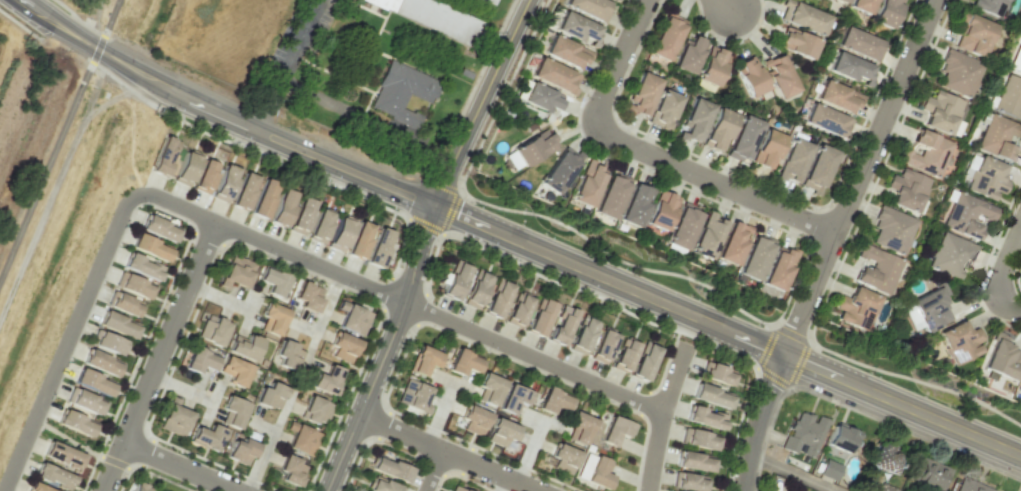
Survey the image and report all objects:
building: (843, 0)
building: (873, 0)
building: (487, 1)
building: (380, 2)
road: (726, 4)
building: (859, 5)
building: (985, 5)
building: (587, 8)
street lamp: (539, 11)
building: (884, 12)
street lamp: (764, 13)
building: (802, 17)
building: (442, 18)
road: (76, 20)
road: (19, 25)
road: (107, 25)
building: (577, 28)
street lamp: (614, 31)
building: (972, 35)
building: (665, 37)
building: (796, 43)
building: (857, 43)
building: (565, 52)
building: (687, 54)
road: (289, 66)
building: (710, 66)
building: (1018, 66)
building: (849, 68)
building: (464, 73)
building: (957, 73)
building: (553, 76)
building: (777, 76)
building: (749, 77)
road: (473, 81)
building: (399, 89)
building: (642, 93)
street lamp: (586, 94)
building: (540, 97)
building: (836, 97)
building: (1008, 97)
road: (479, 103)
building: (663, 109)
building: (941, 113)
road: (221, 116)
building: (693, 120)
building: (826, 120)
building: (718, 129)
building: (998, 137)
road: (58, 138)
building: (742, 138)
building: (766, 148)
building: (529, 149)
street lamp: (612, 153)
building: (925, 153)
road: (651, 154)
building: (164, 156)
building: (792, 160)
road: (48, 163)
street lamp: (717, 166)
building: (185, 168)
building: (816, 169)
building: (558, 171)
building: (204, 176)
road: (858, 177)
building: (985, 178)
building: (224, 183)
building: (587, 183)
building: (906, 190)
building: (243, 191)
building: (610, 197)
building: (262, 198)
building: (634, 204)
street lamp: (141, 205)
building: (282, 207)
building: (661, 210)
building: (966, 215)
building: (301, 216)
building: (319, 226)
building: (682, 226)
street lamp: (782, 226)
building: (159, 228)
building: (891, 229)
building: (338, 234)
building: (707, 235)
street lamp: (850, 236)
building: (359, 240)
building: (732, 243)
building: (378, 247)
building: (150, 248)
building: (951, 255)
street lamp: (264, 256)
building: (754, 257)
road: (1004, 264)
building: (142, 267)
building: (778, 268)
building: (875, 269)
building: (236, 272)
building: (272, 281)
building: (454, 281)
street lamp: (103, 282)
building: (133, 286)
building: (475, 289)
street lamp: (344, 290)
building: (307, 296)
road: (222, 298)
road: (397, 299)
building: (497, 299)
building: (123, 304)
building: (930, 307)
building: (855, 308)
road: (1013, 308)
building: (517, 309)
road: (250, 311)
building: (539, 316)
building: (271, 318)
building: (352, 318)
road: (320, 319)
street lamp: (758, 323)
building: (117, 325)
building: (560, 325)
road: (301, 326)
building: (212, 329)
road: (728, 329)
building: (581, 335)
street lamp: (407, 338)
building: (107, 342)
building: (959, 342)
road: (68, 343)
building: (602, 345)
building: (244, 346)
building: (341, 347)
road: (385, 350)
street lamp: (486, 351)
building: (287, 355)
building: (623, 355)
street lamp: (745, 357)
road: (156, 358)
building: (1001, 358)
street lamp: (71, 359)
building: (199, 360)
building: (422, 360)
building: (644, 361)
building: (462, 362)
building: (100, 363)
street lamp: (169, 367)
building: (234, 371)
street lamp: (870, 371)
street lamp: (598, 373)
building: (716, 374)
building: (326, 380)
building: (93, 382)
building: (1019, 386)
road: (181, 388)
building: (488, 388)
street lamp: (804, 392)
building: (412, 394)
building: (269, 396)
building: (710, 396)
building: (512, 399)
building: (84, 401)
building: (552, 401)
building: (315, 410)
building: (232, 412)
road: (439, 413)
building: (174, 418)
road: (660, 418)
building: (704, 418)
building: (473, 420)
road: (757, 421)
building: (74, 423)
building: (578, 427)
street lamp: (41, 430)
building: (614, 431)
building: (500, 432)
building: (803, 434)
building: (206, 437)
building: (301, 438)
building: (840, 438)
park: (72, 439)
building: (697, 439)
road: (267, 446)
street lamp: (181, 451)
building: (240, 451)
road: (446, 452)
road: (530, 452)
building: (62, 455)
building: (563, 458)
building: (885, 459)
building: (693, 461)
road: (183, 467)
building: (389, 469)
building: (829, 469)
road: (432, 470)
building: (290, 471)
building: (594, 471)
road: (792, 472)
building: (930, 475)
building: (53, 476)
building: (687, 482)
road: (500, 484)
building: (381, 485)
building: (970, 486)
building: (36, 487)
building: (137, 487)
building: (455, 489)

